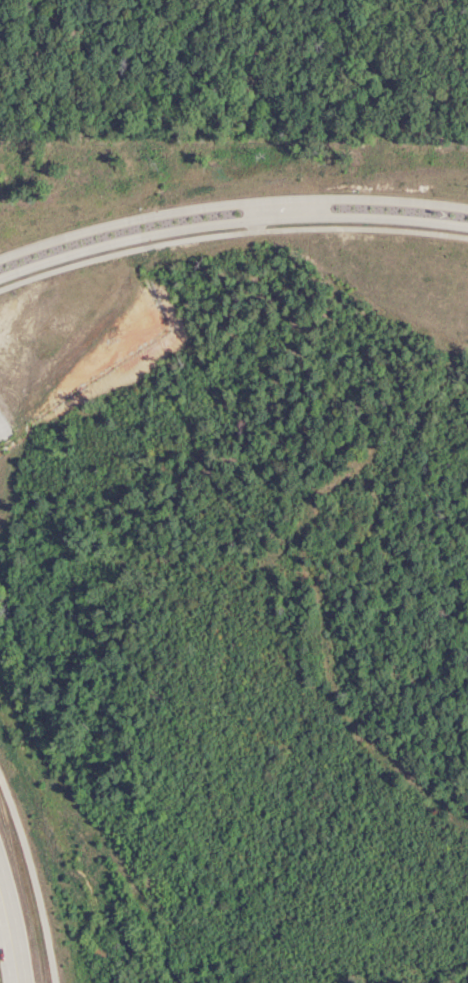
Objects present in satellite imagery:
building: (10, 927)
road: (14, 934)

